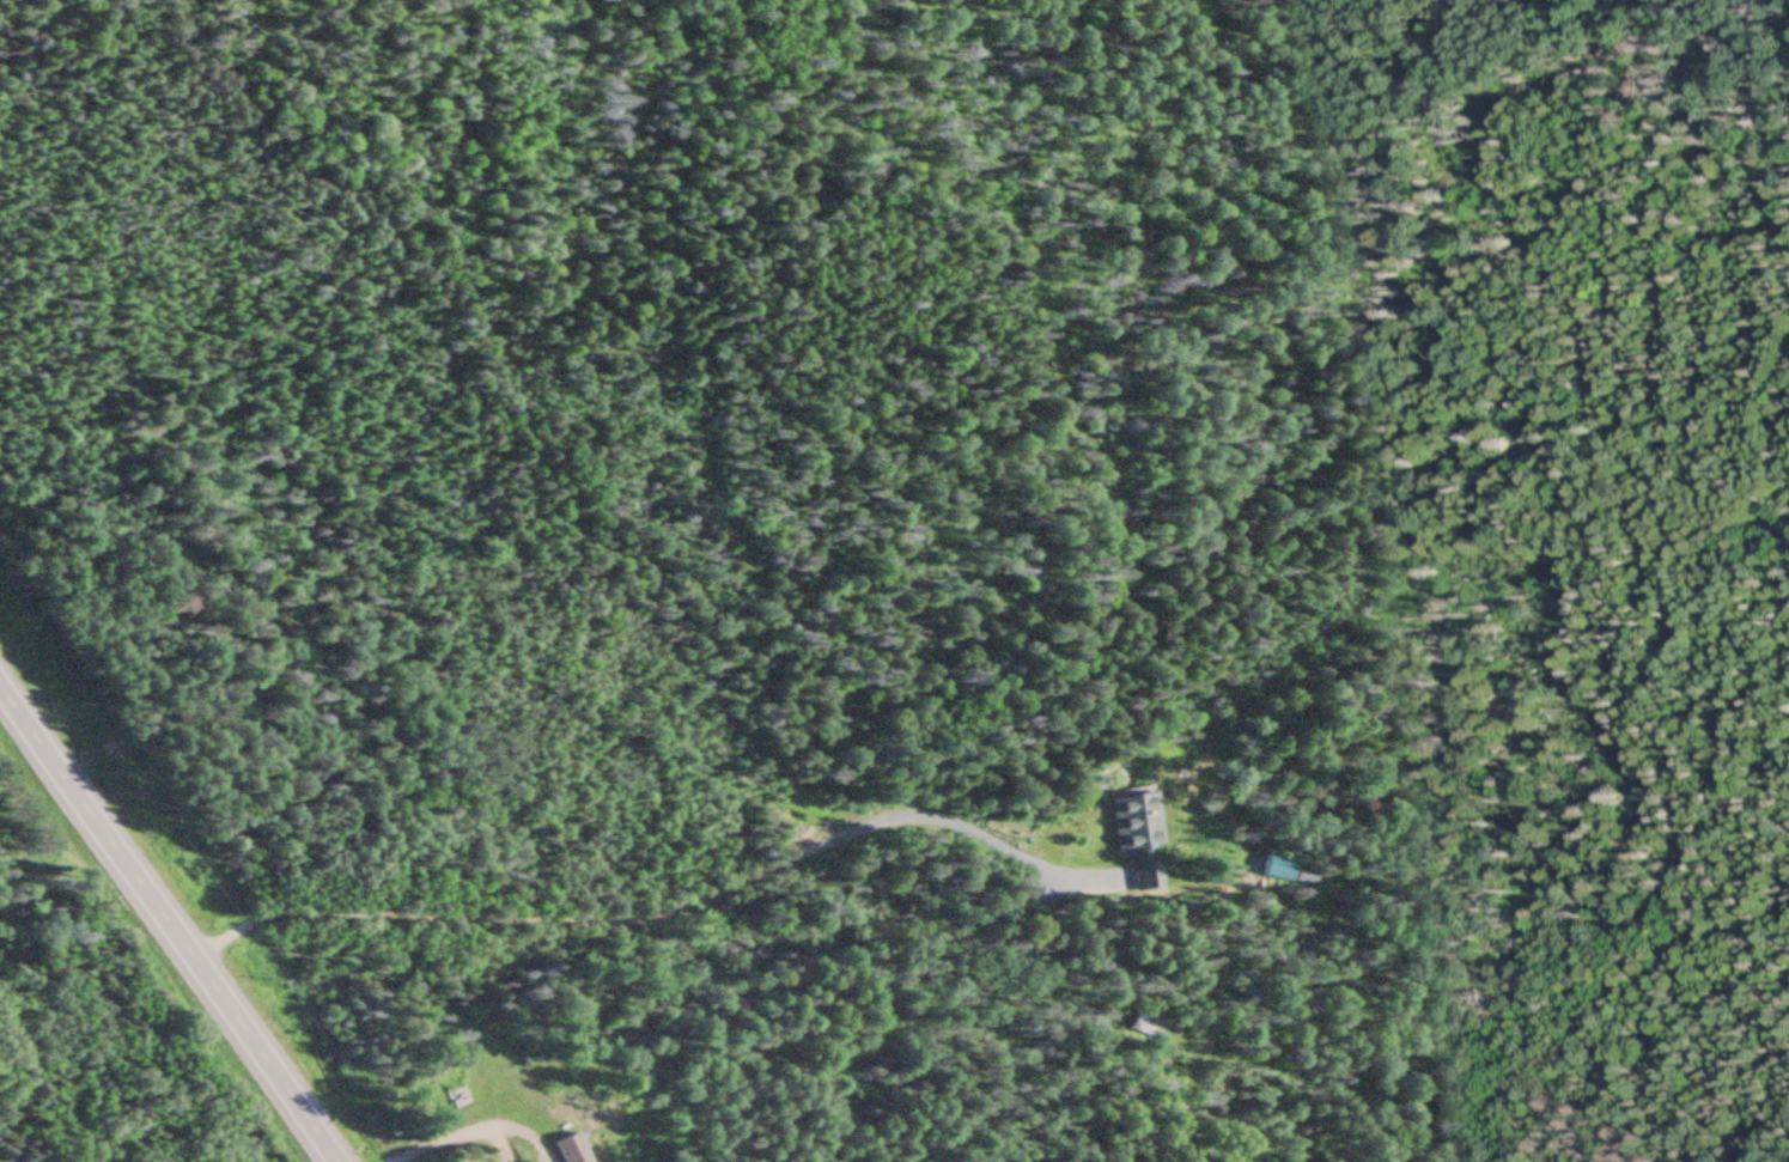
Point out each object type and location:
building: (1137, 838)
building: (1276, 868)
road: (169, 921)
building: (450, 1099)
building: (571, 1150)

